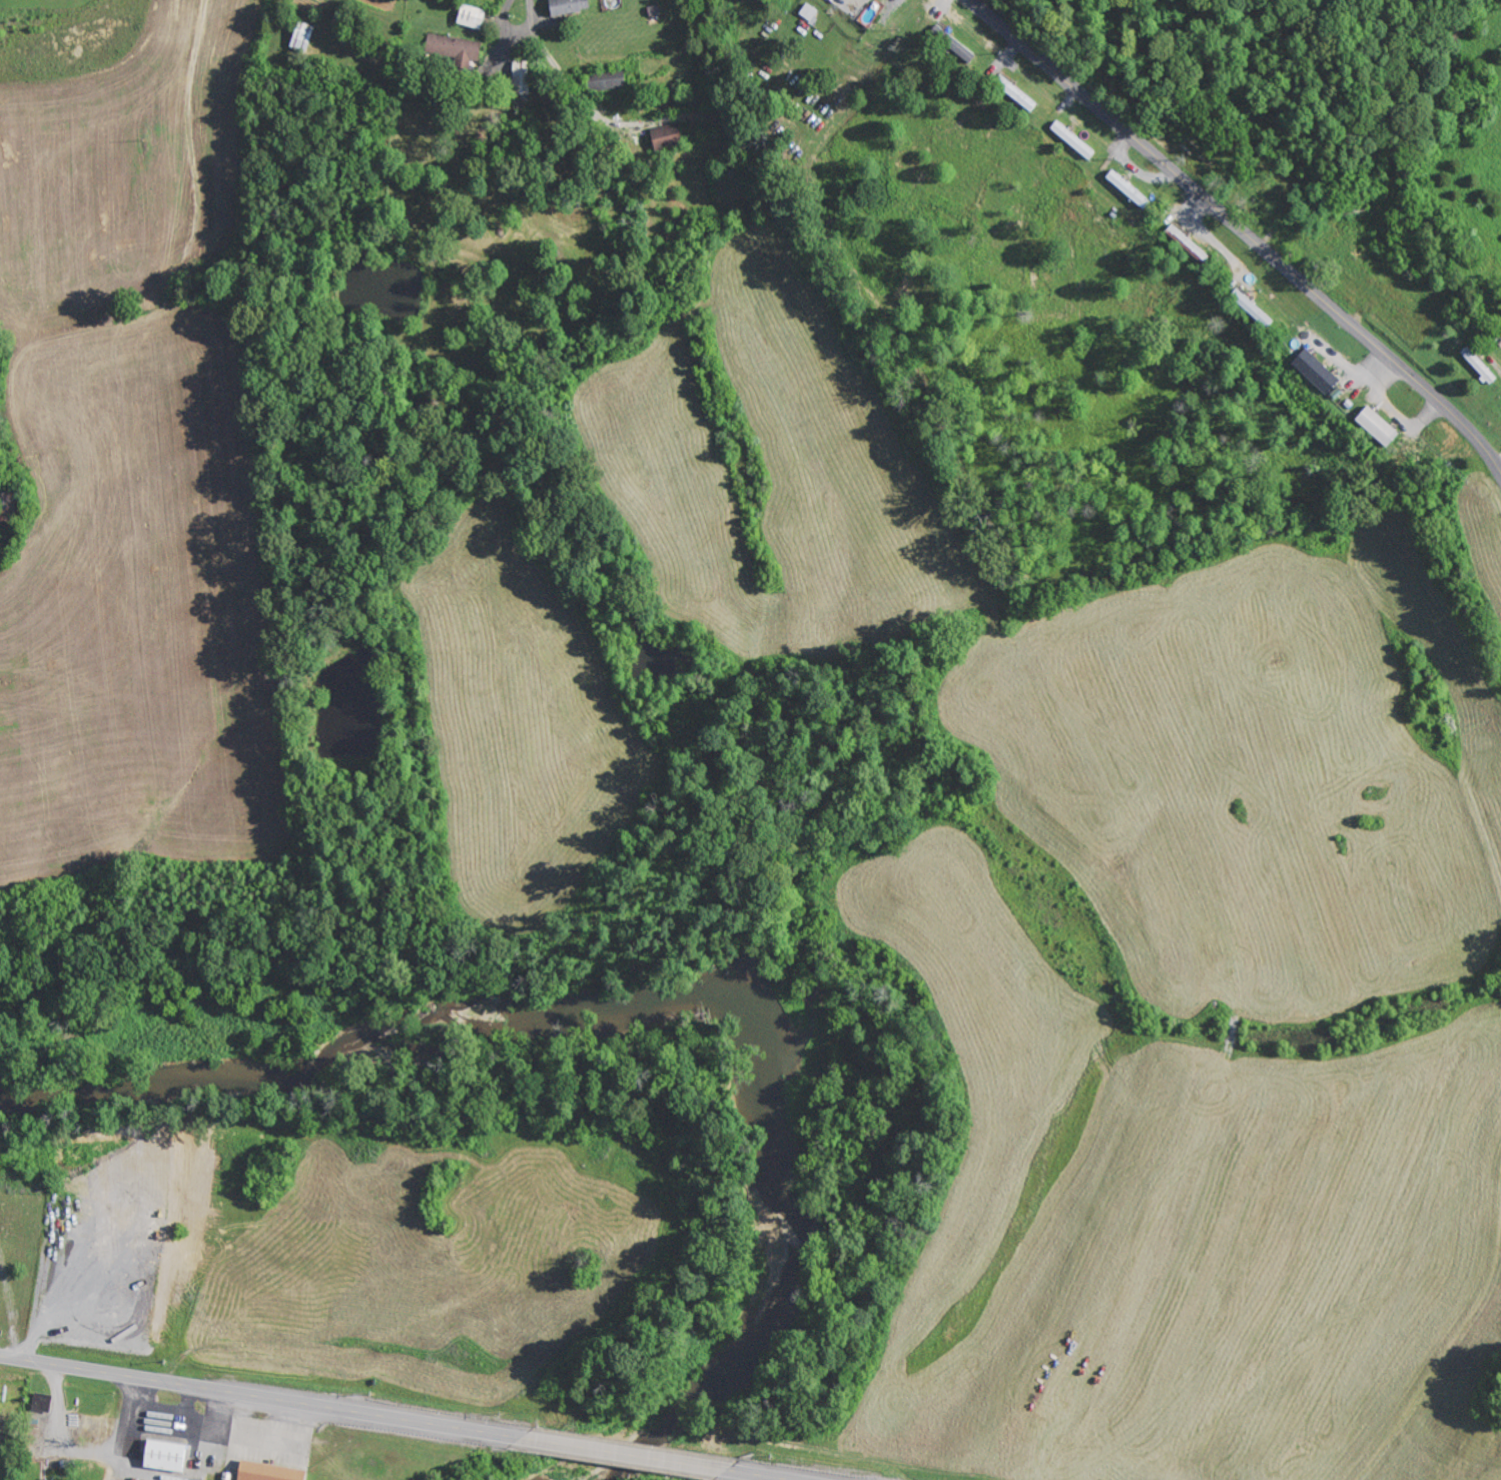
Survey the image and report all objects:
building: (567, 6)
building: (808, 12)
building: (471, 16)
building: (956, 46)
building: (520, 77)
building: (609, 81)
building: (665, 135)
building: (1125, 186)
road: (1240, 229)
road: (167, 288)
building: (1250, 307)
building: (1315, 370)
building: (1376, 426)
road: (393, 1418)
building: (163, 1456)
building: (267, 1471)

